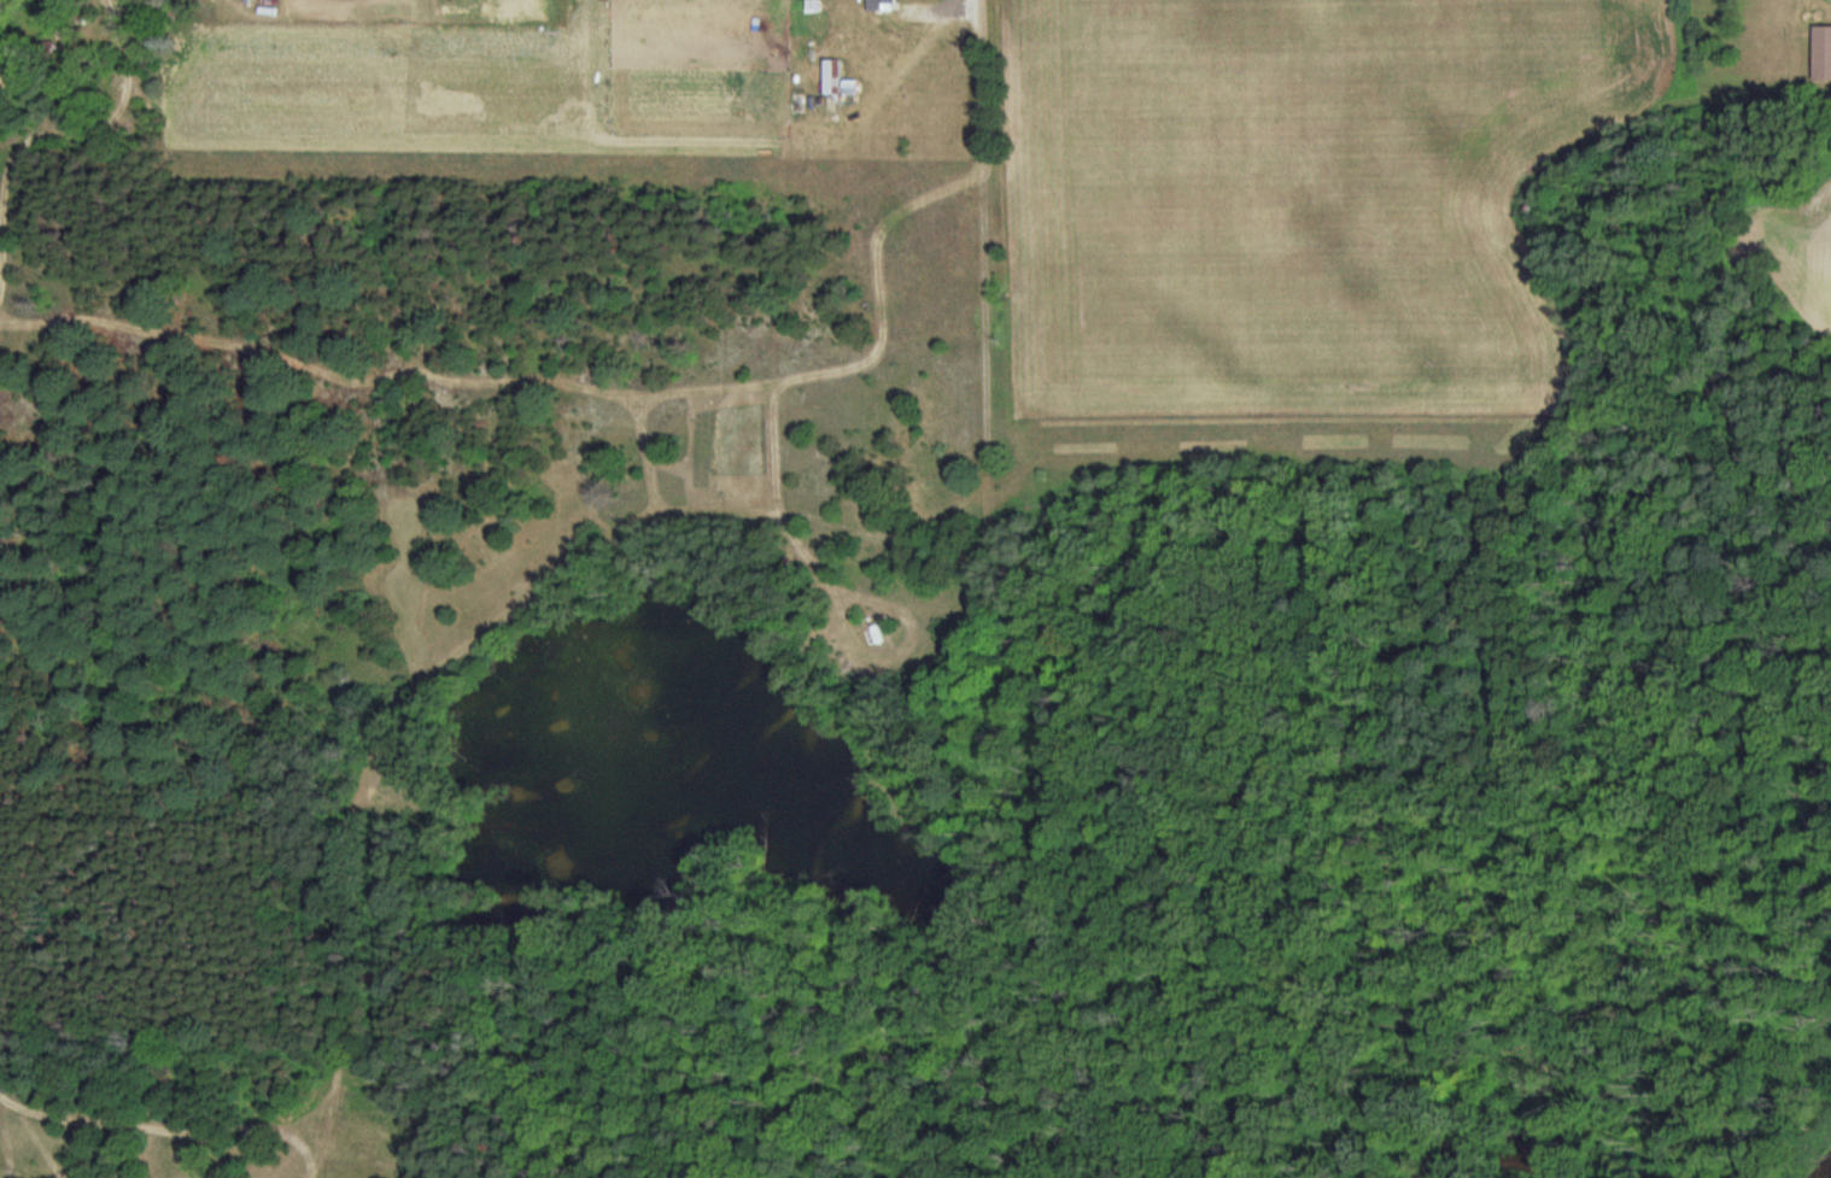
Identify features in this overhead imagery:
building: (1827, 0)
building: (881, 5)
road: (973, 5)
road: (937, 10)
building: (832, 77)
road: (984, 297)
road: (504, 615)
river: (1488, 1147)
river: (1824, 1172)

